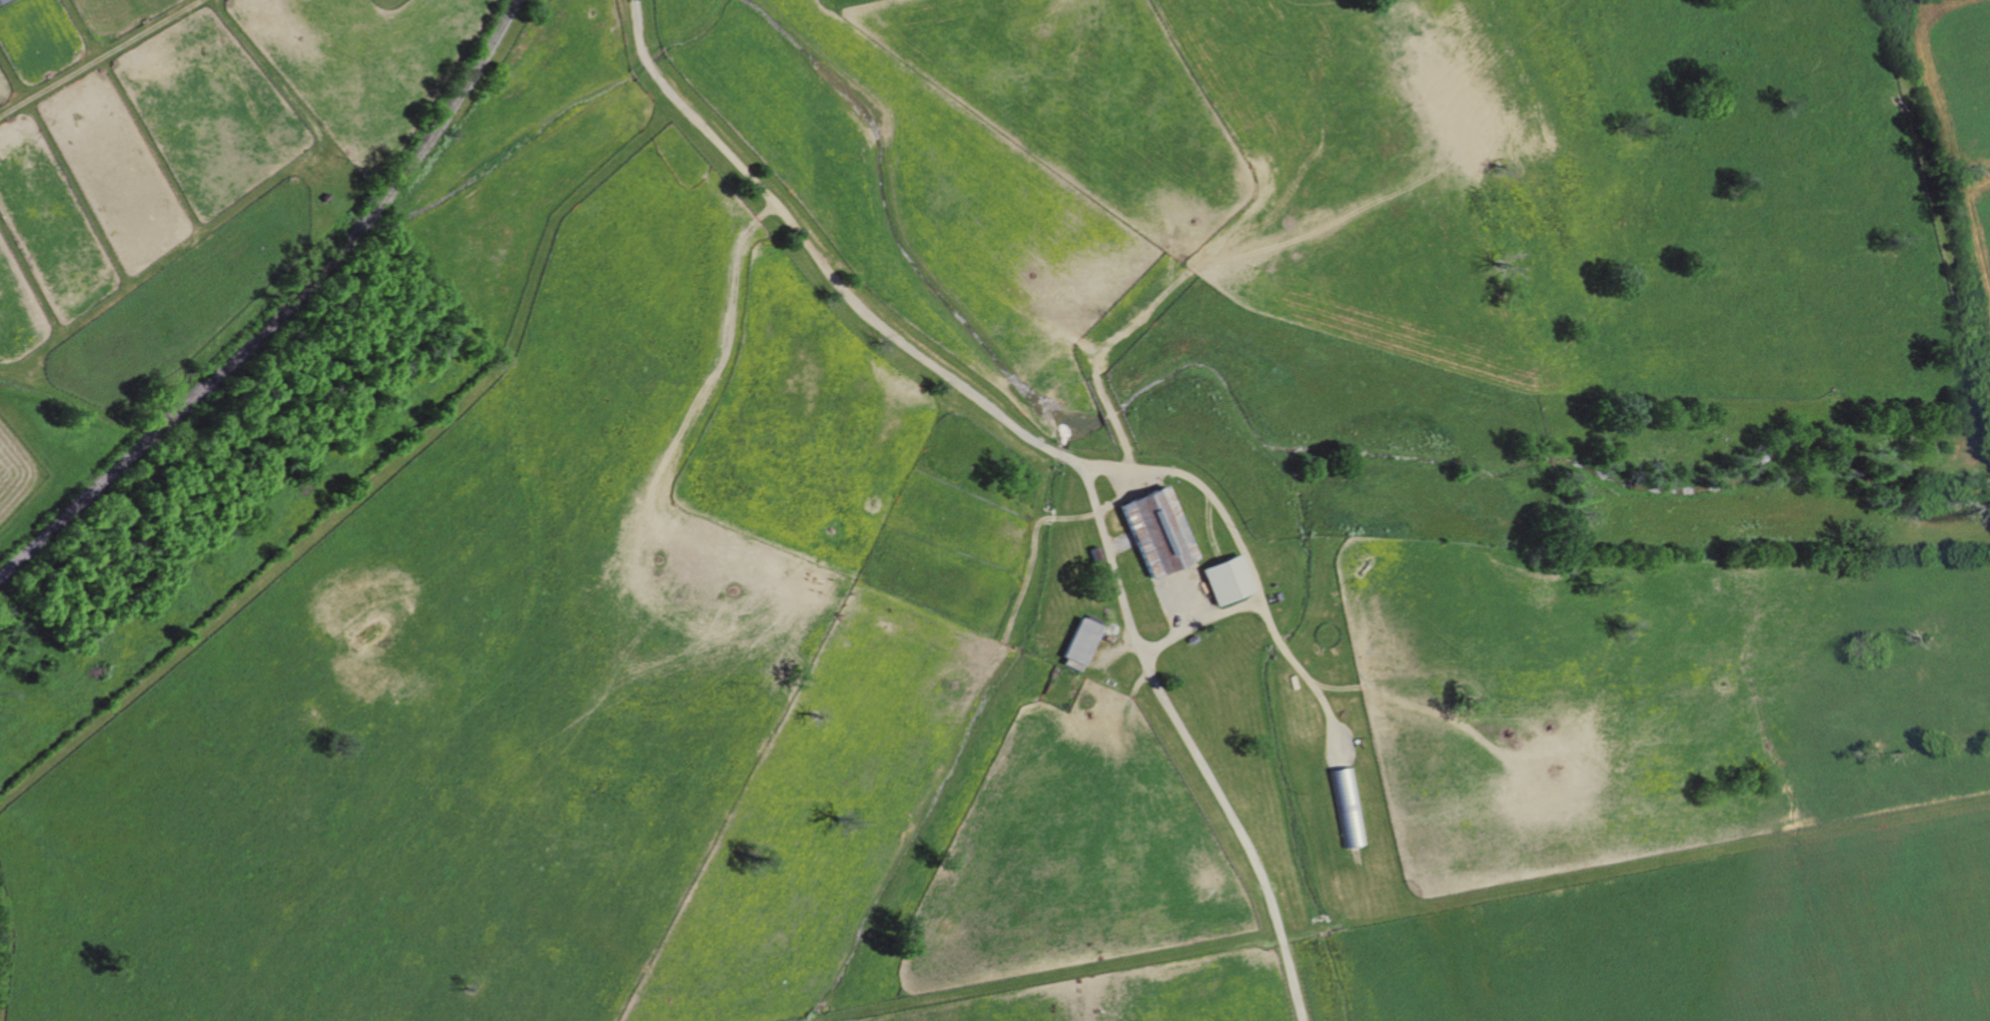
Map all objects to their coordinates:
building: (2, 1)
railway: (282, 310)
road: (1053, 451)
building: (1160, 531)
road: (1246, 556)
building: (1230, 580)
road: (1200, 622)
building: (1083, 641)

